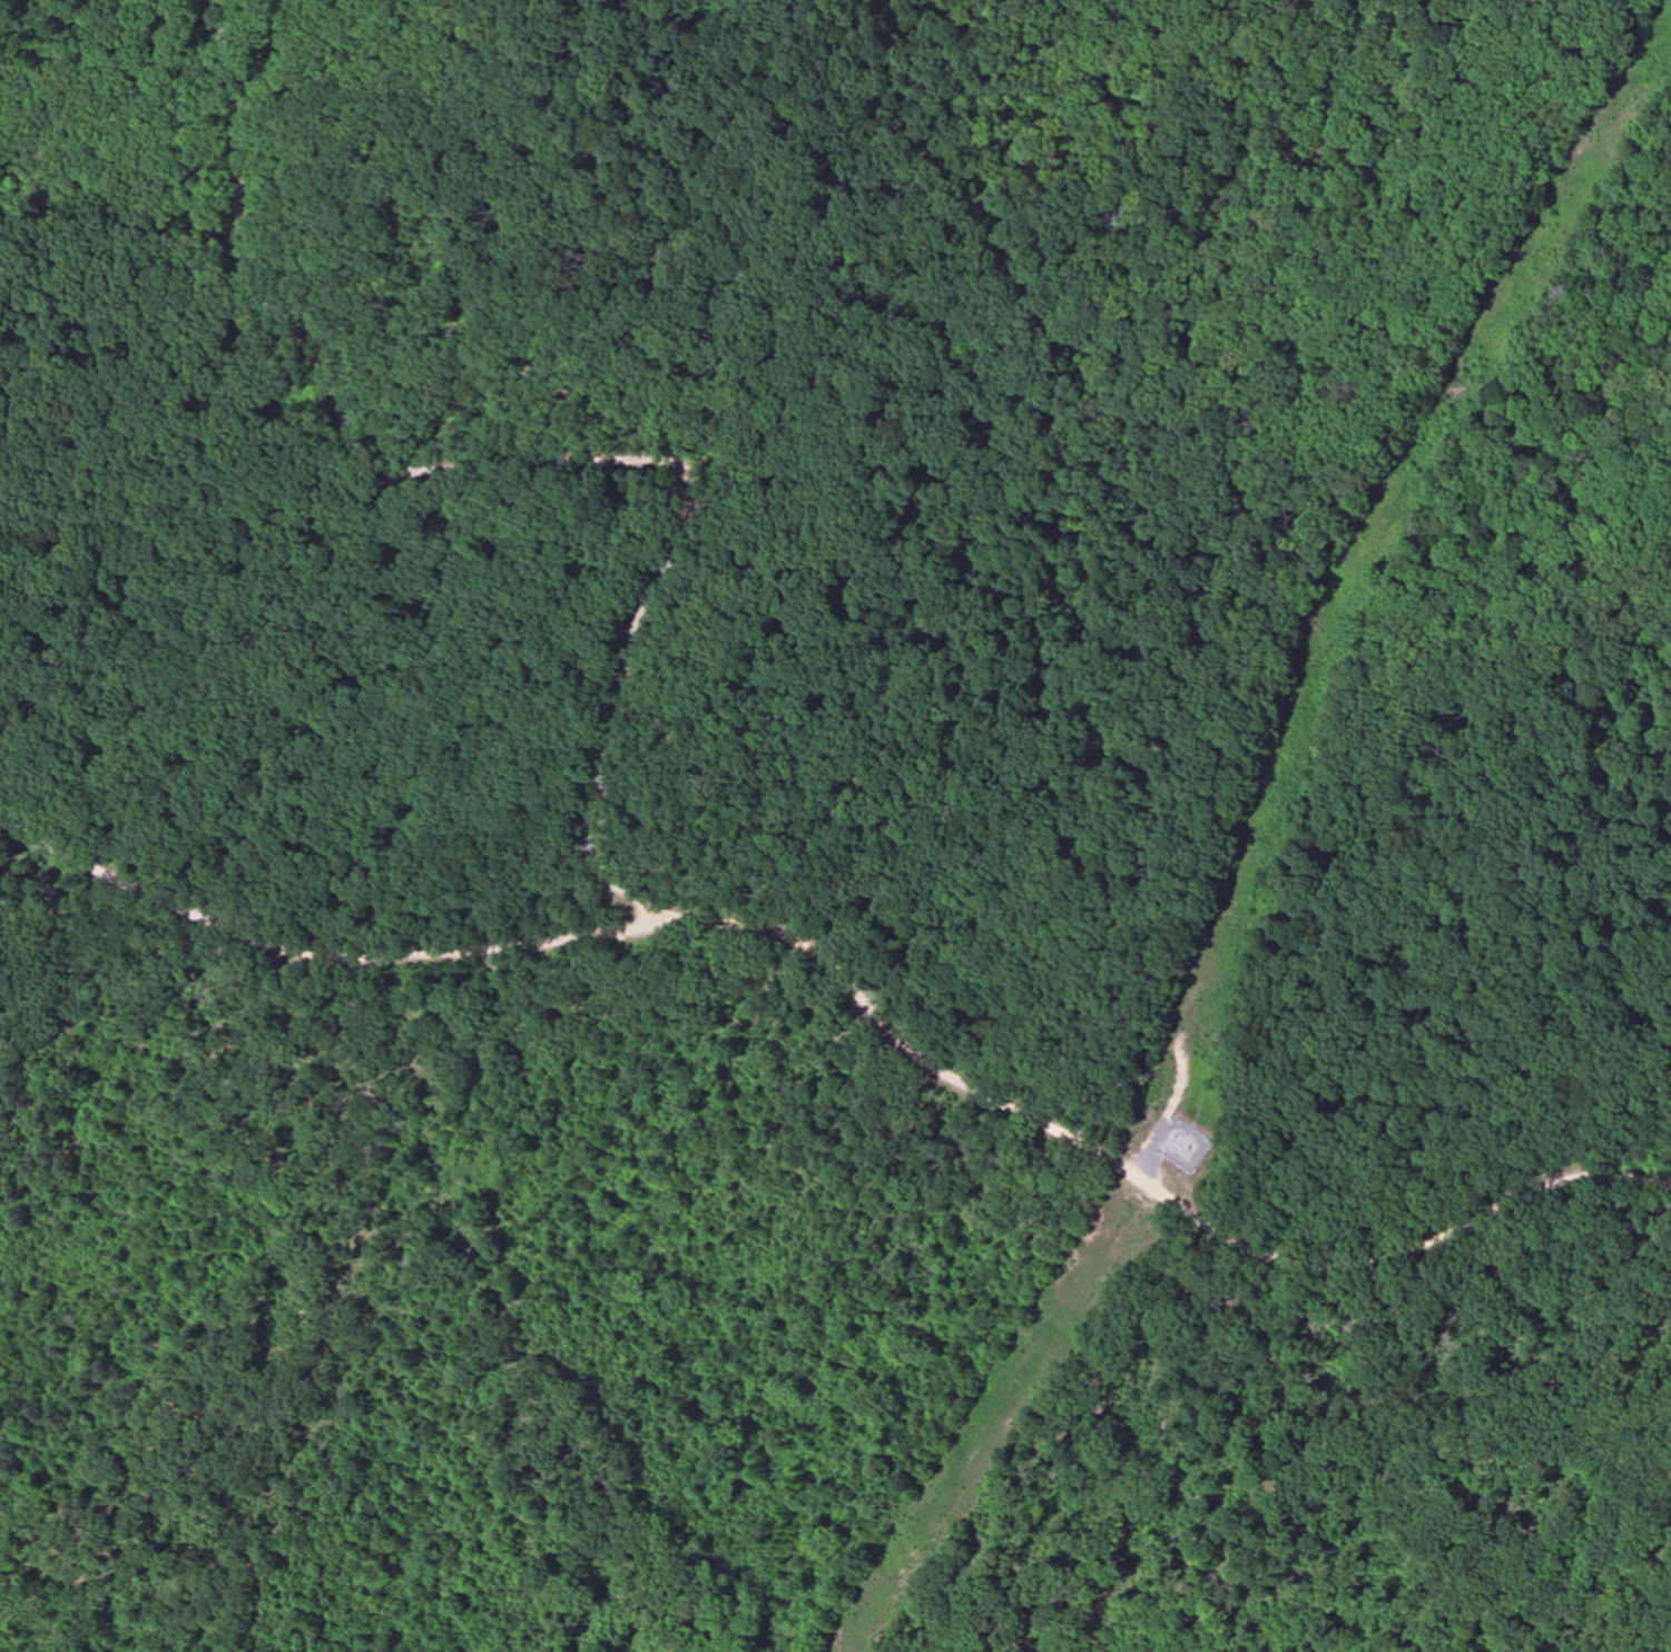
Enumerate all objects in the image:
road: (529, 465)
road: (858, 999)

